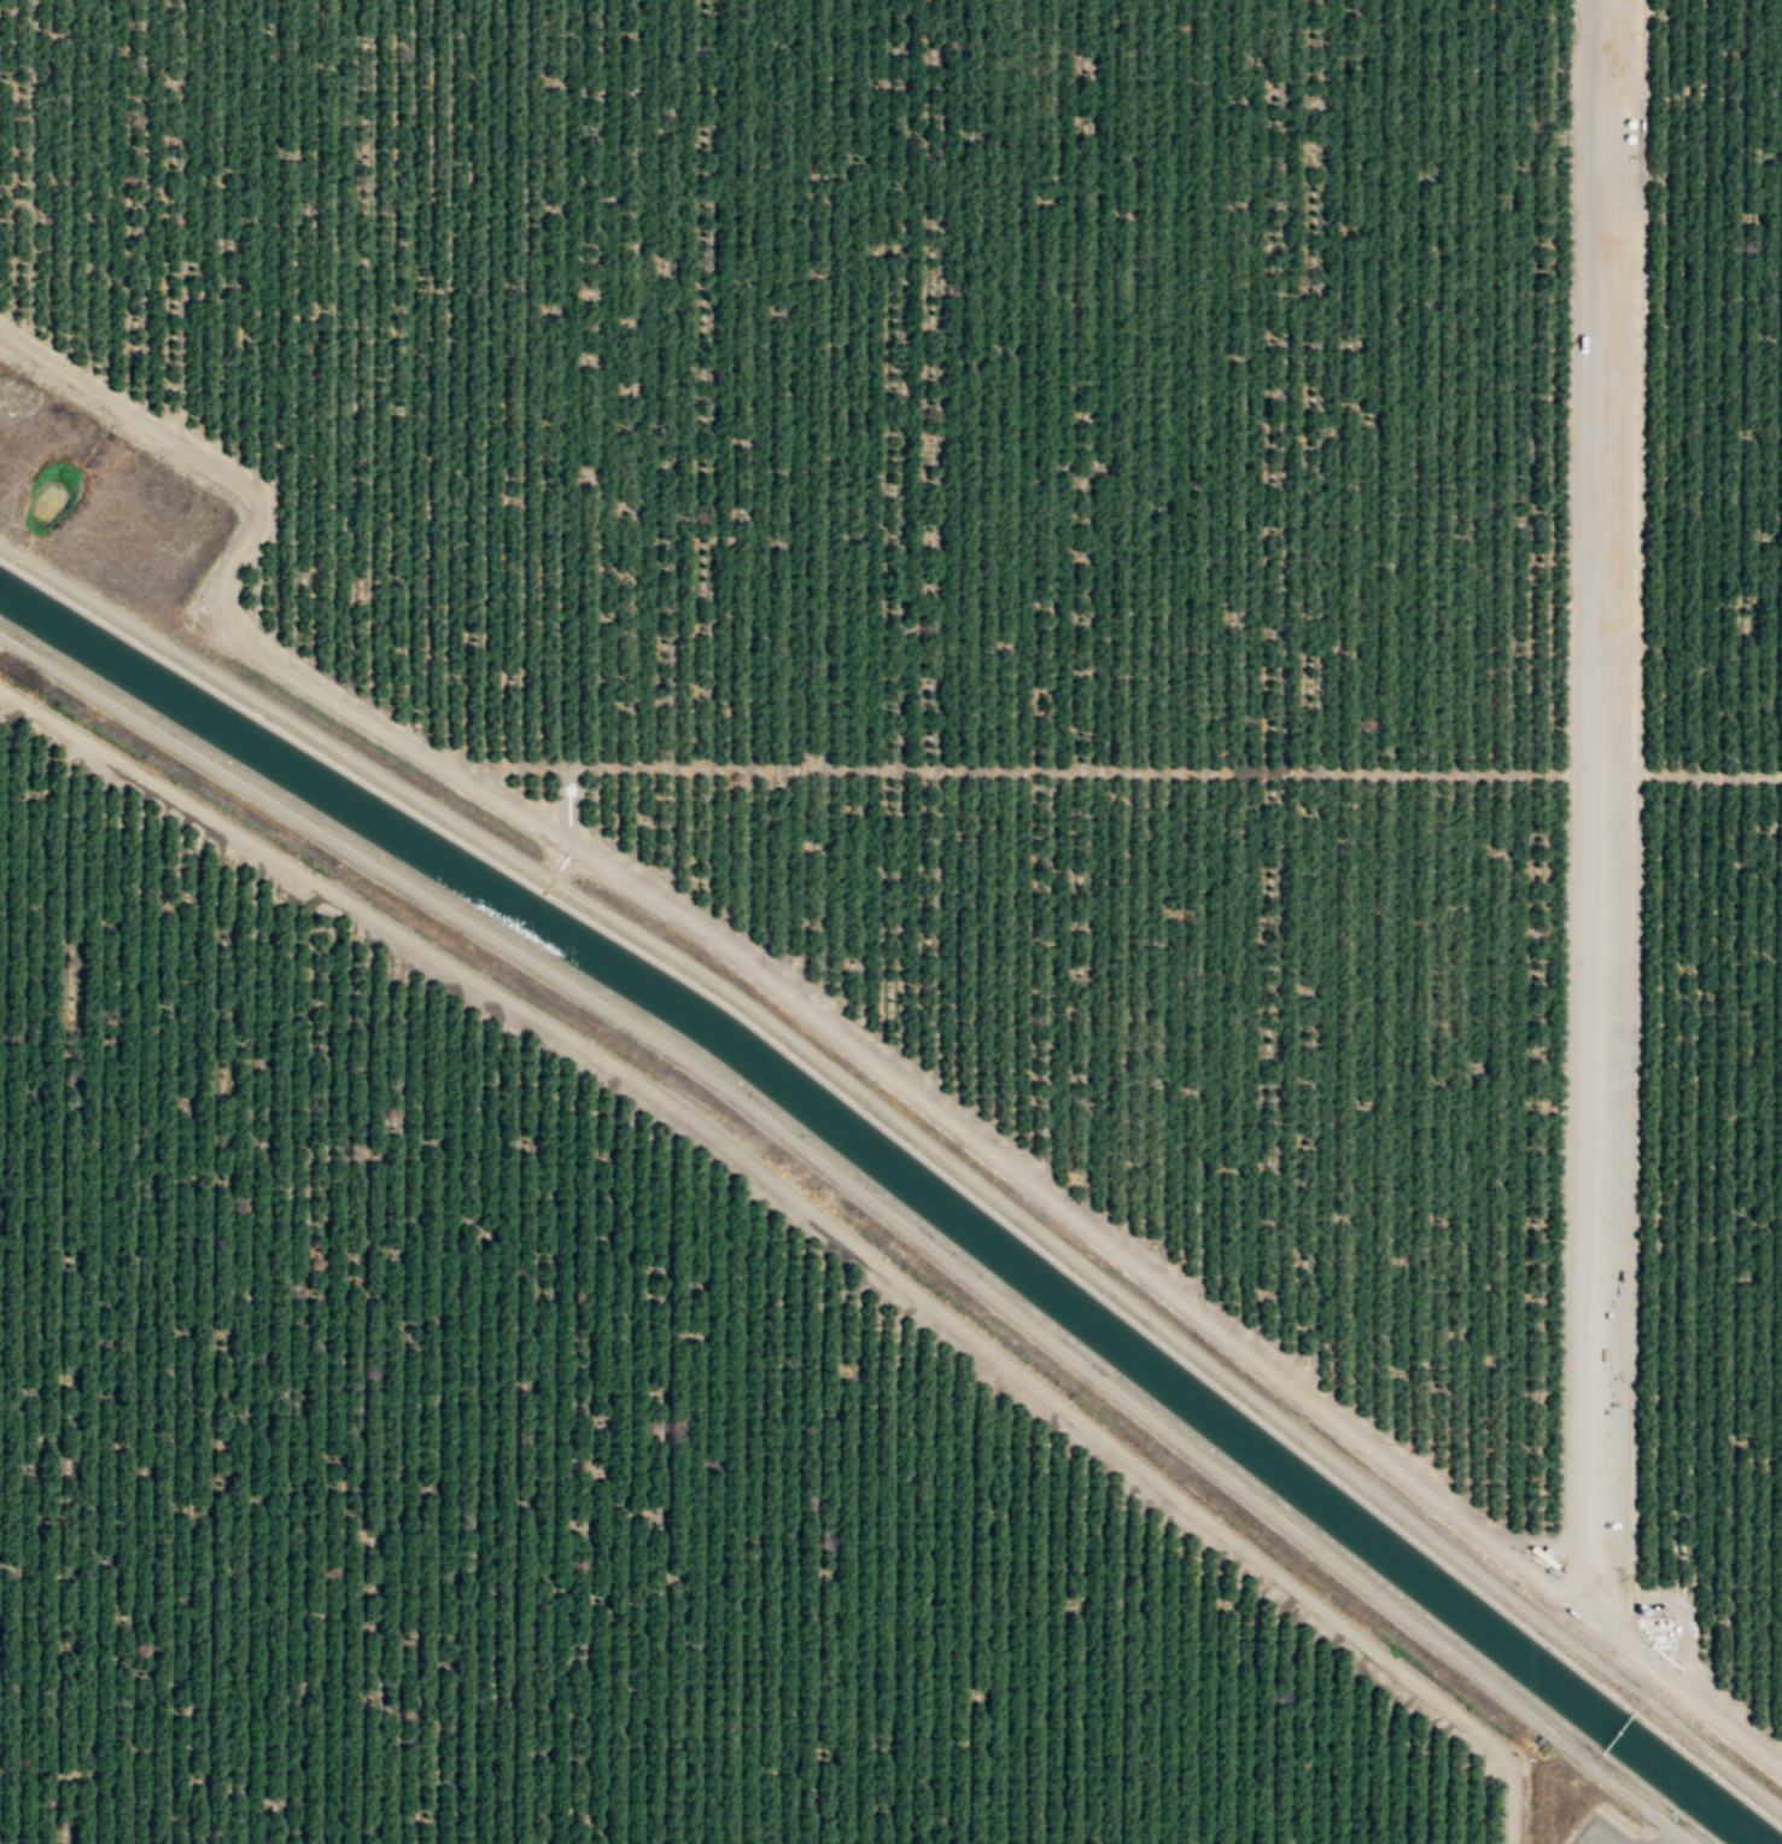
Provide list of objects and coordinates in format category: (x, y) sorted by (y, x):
road: (1026, 770)
road: (1711, 775)
road: (1593, 799)
road: (573, 805)
road: (1638, 857)
road: (842, 1039)
road: (810, 1213)
road: (1321, 1556)
road: (1772, 1750)

